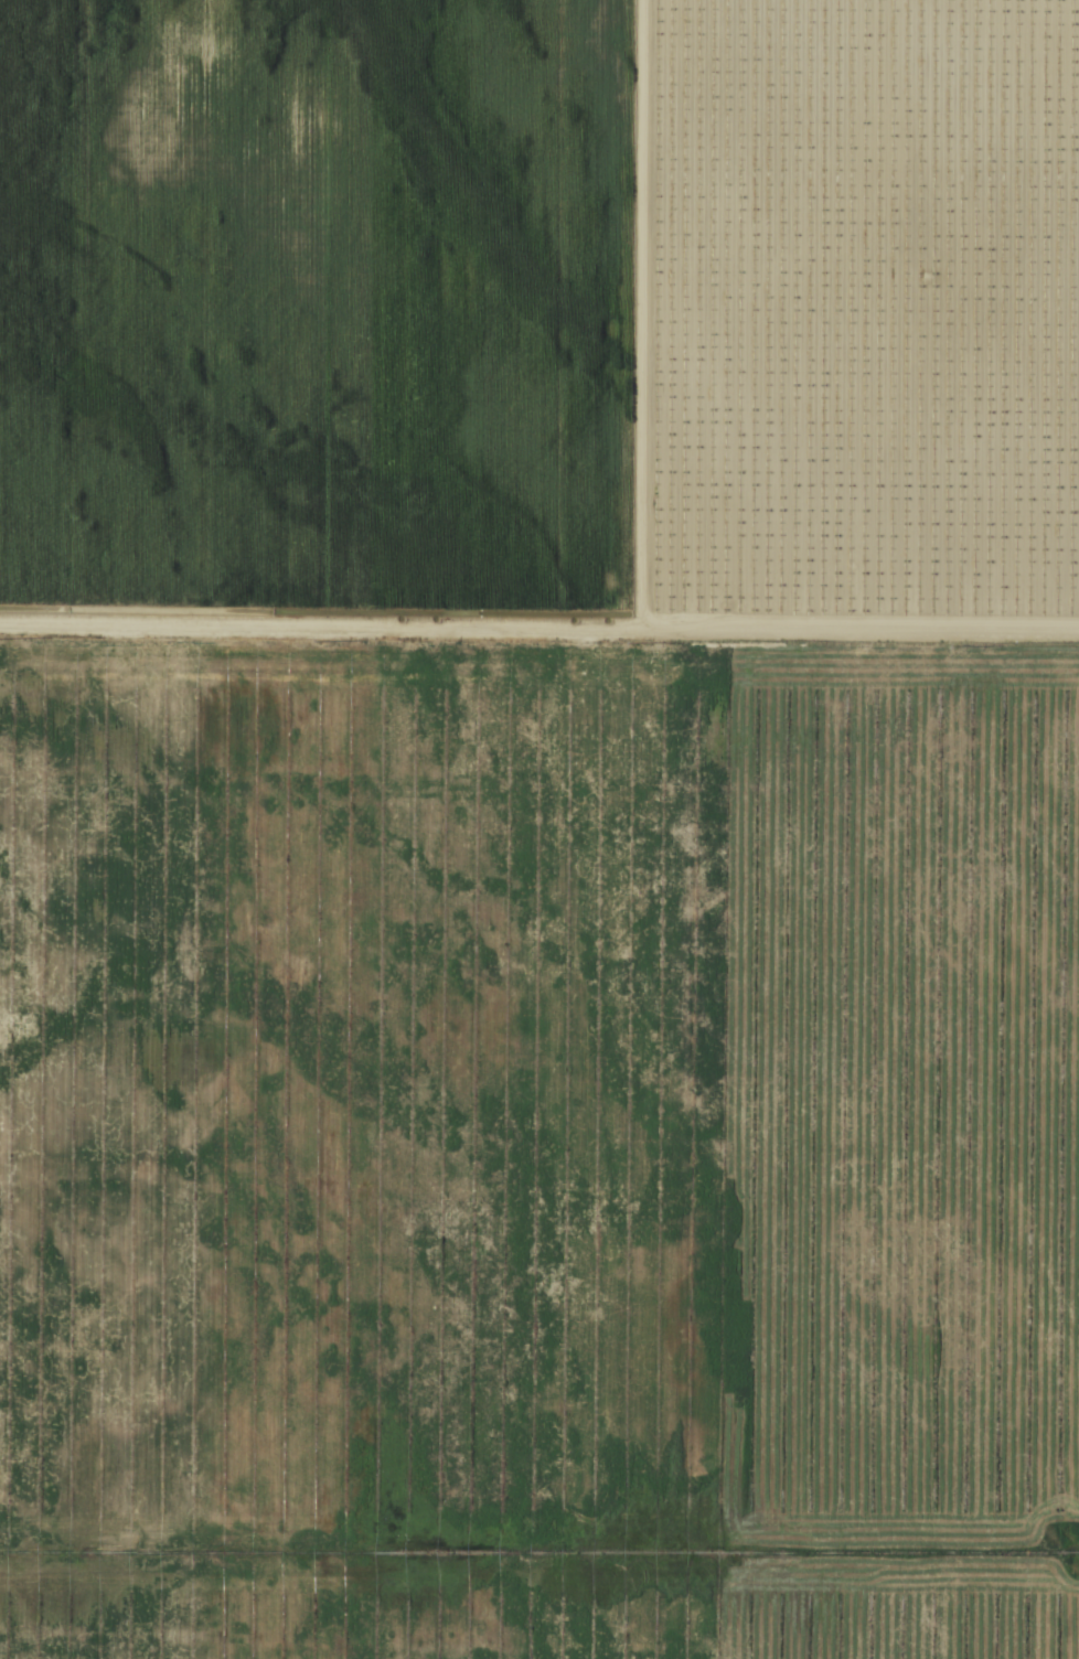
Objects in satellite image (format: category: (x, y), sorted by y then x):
road: (539, 725)

